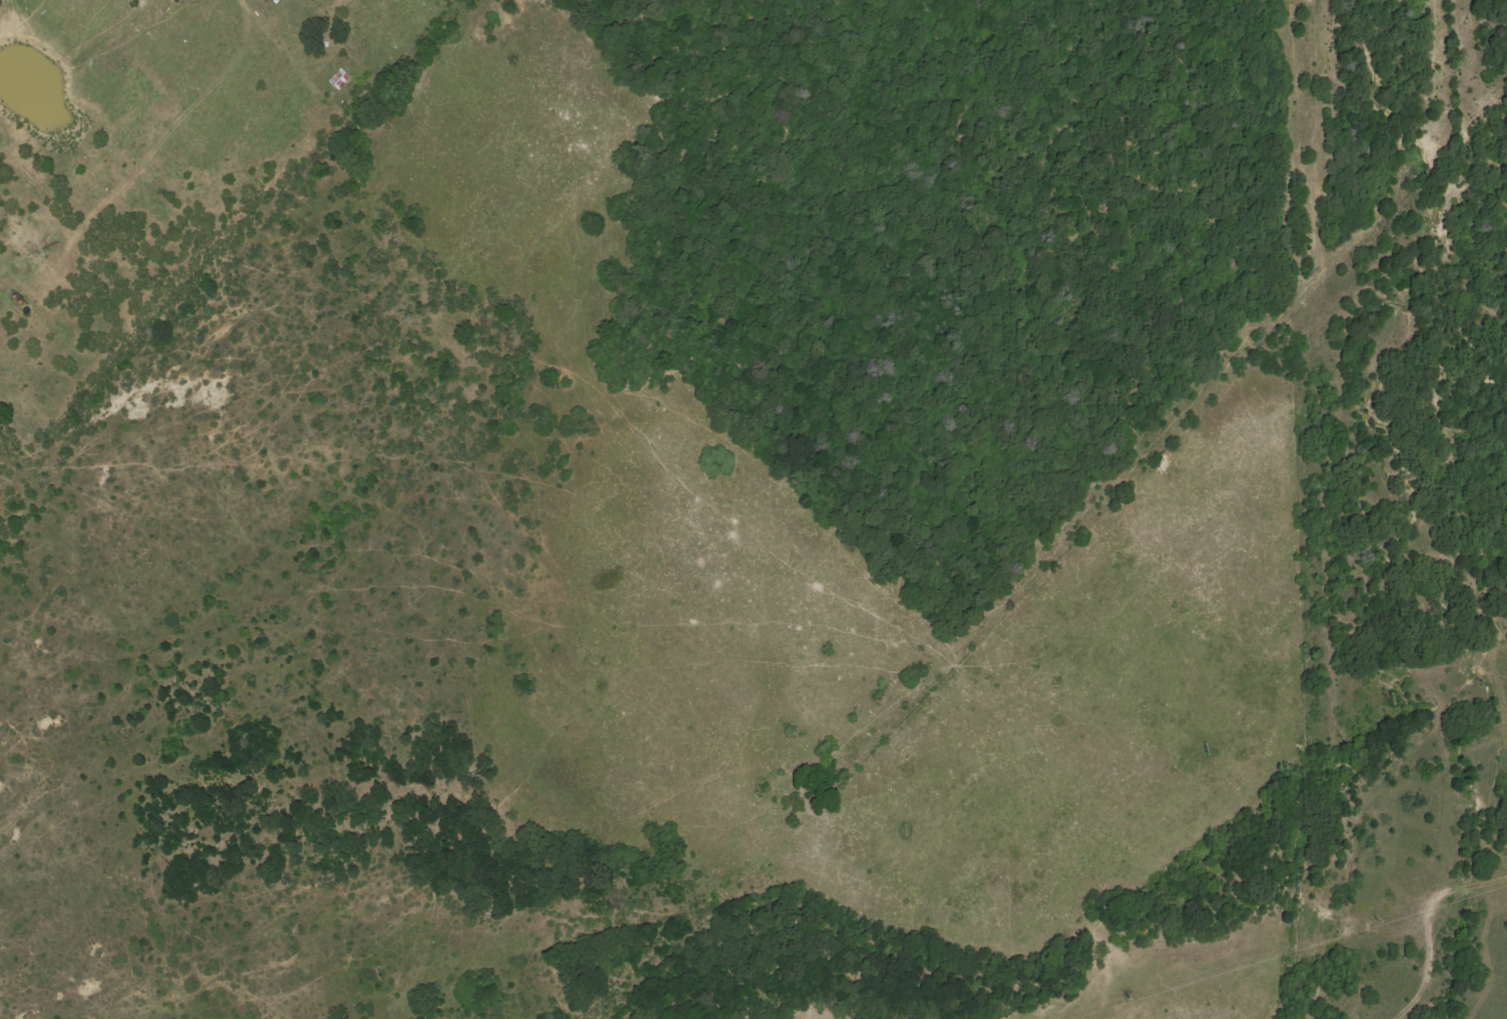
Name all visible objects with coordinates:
power tower: (1393, 698)
power tower: (1208, 749)
power tower: (907, 830)
power tower: (648, 900)
power tower: (381, 972)

